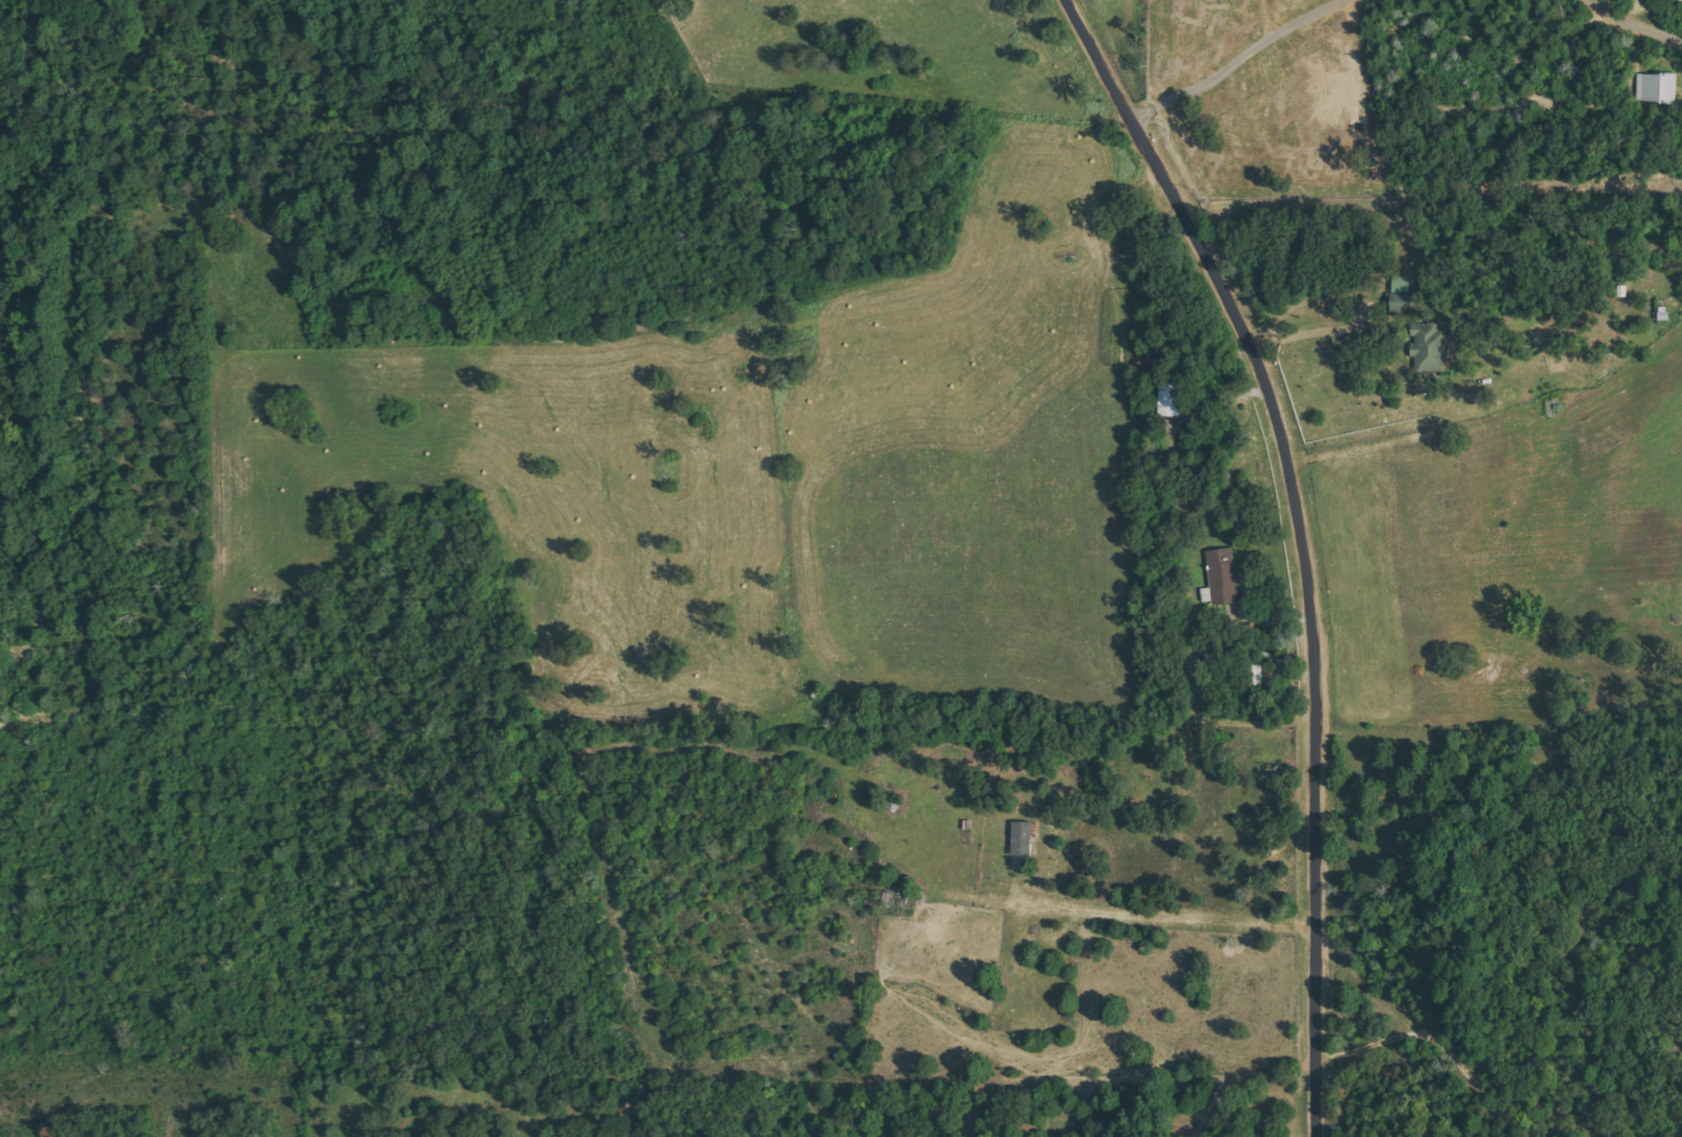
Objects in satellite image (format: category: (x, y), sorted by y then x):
building: (1656, 88)
building: (1403, 293)
building: (1429, 347)
building: (1170, 398)
road: (1486, 438)
road: (1304, 541)
building: (1222, 577)
building: (1255, 675)
road: (1243, 766)
building: (1023, 838)

